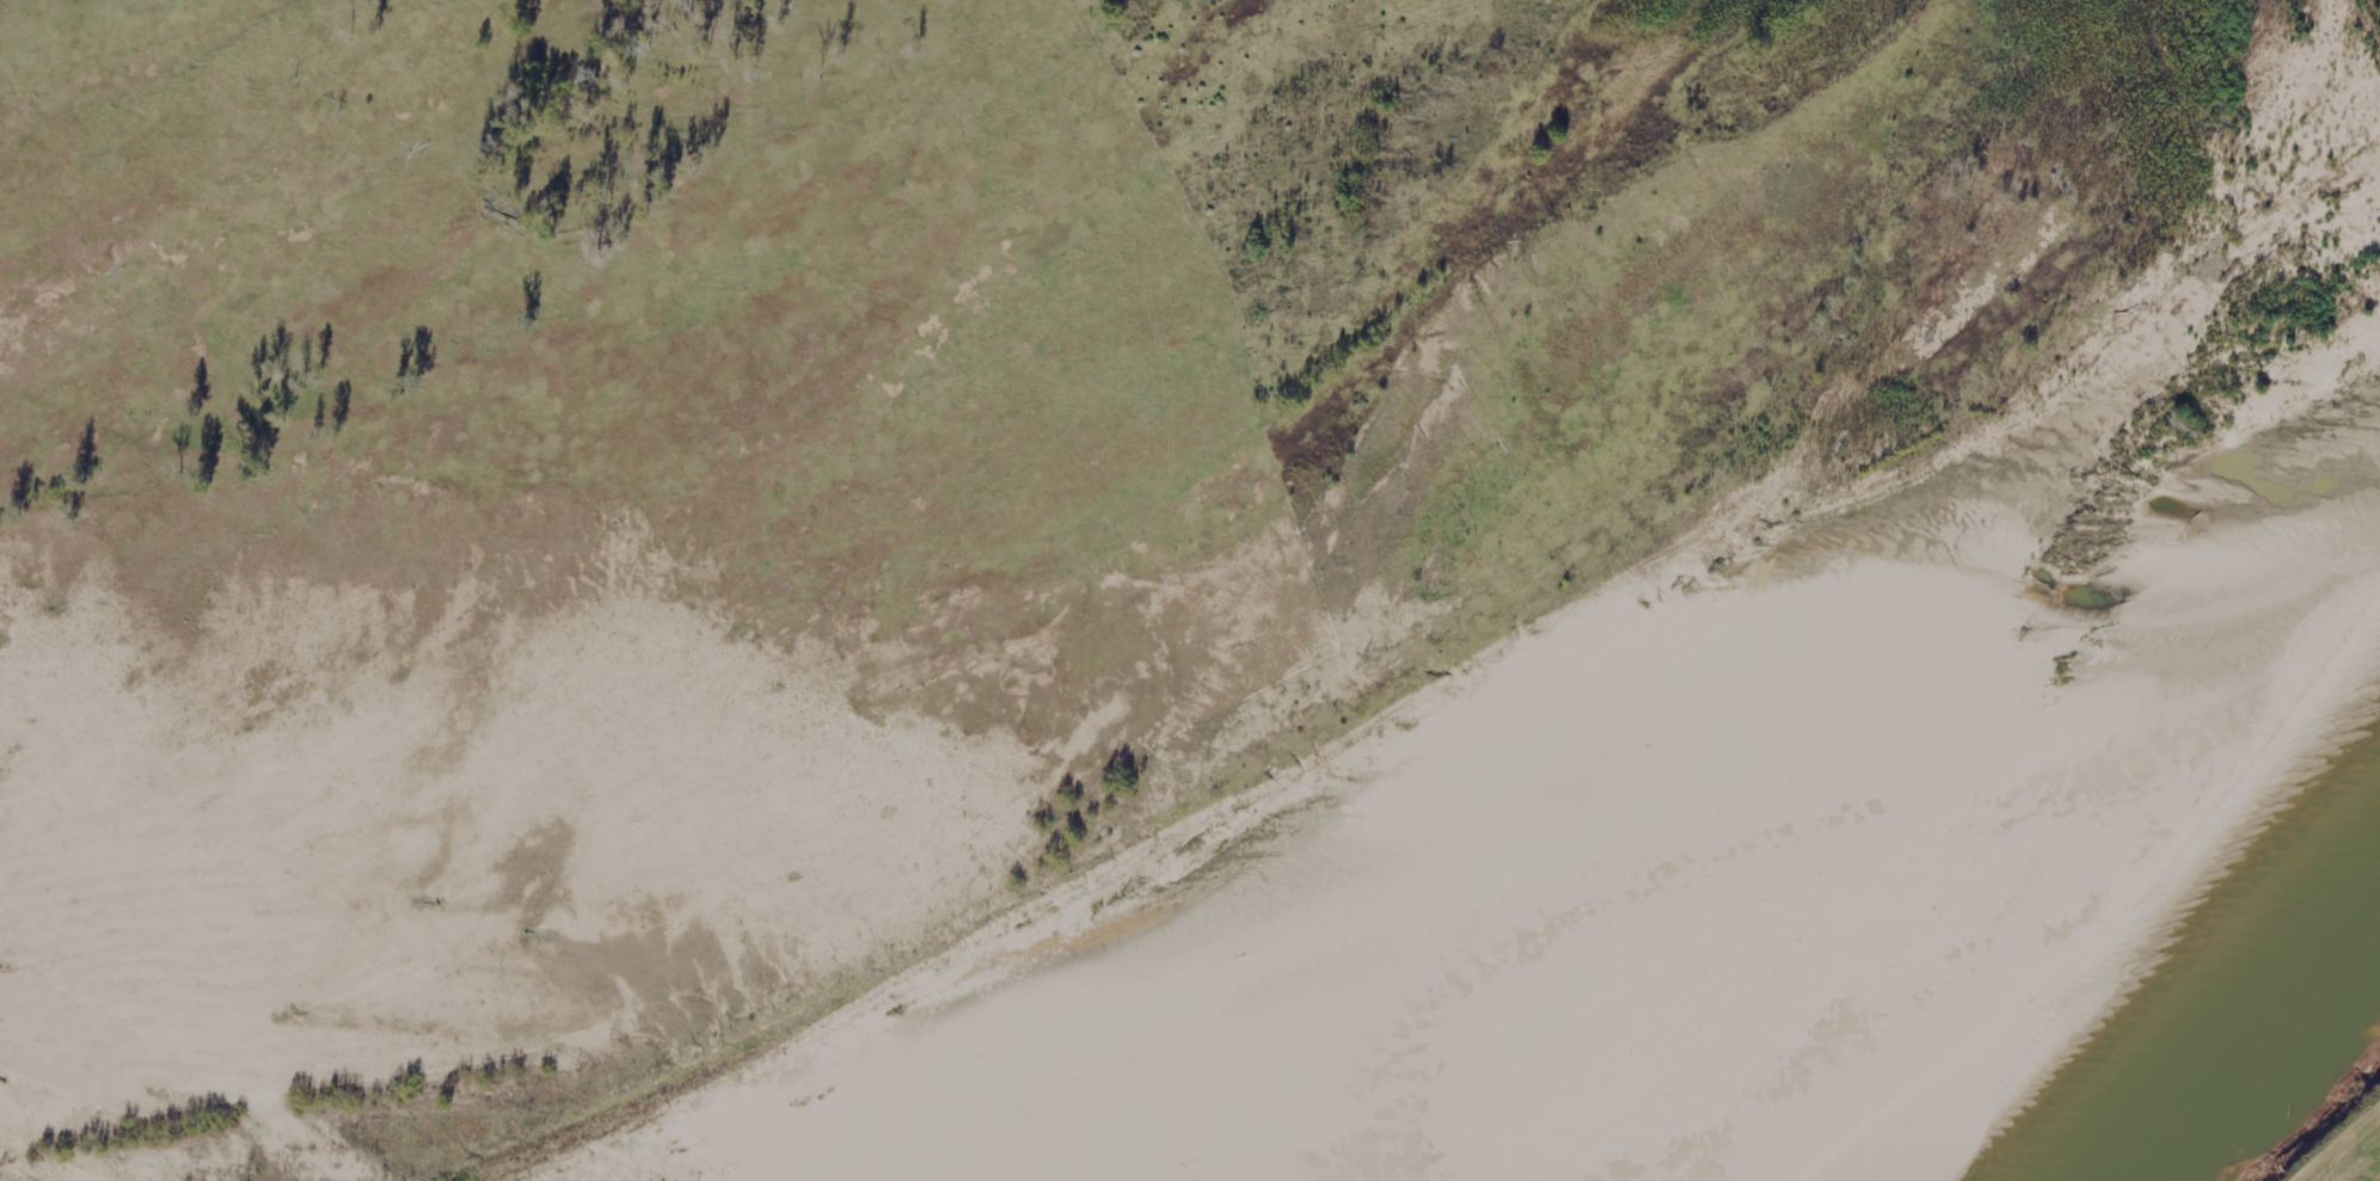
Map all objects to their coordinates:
river: (1480, 719)

